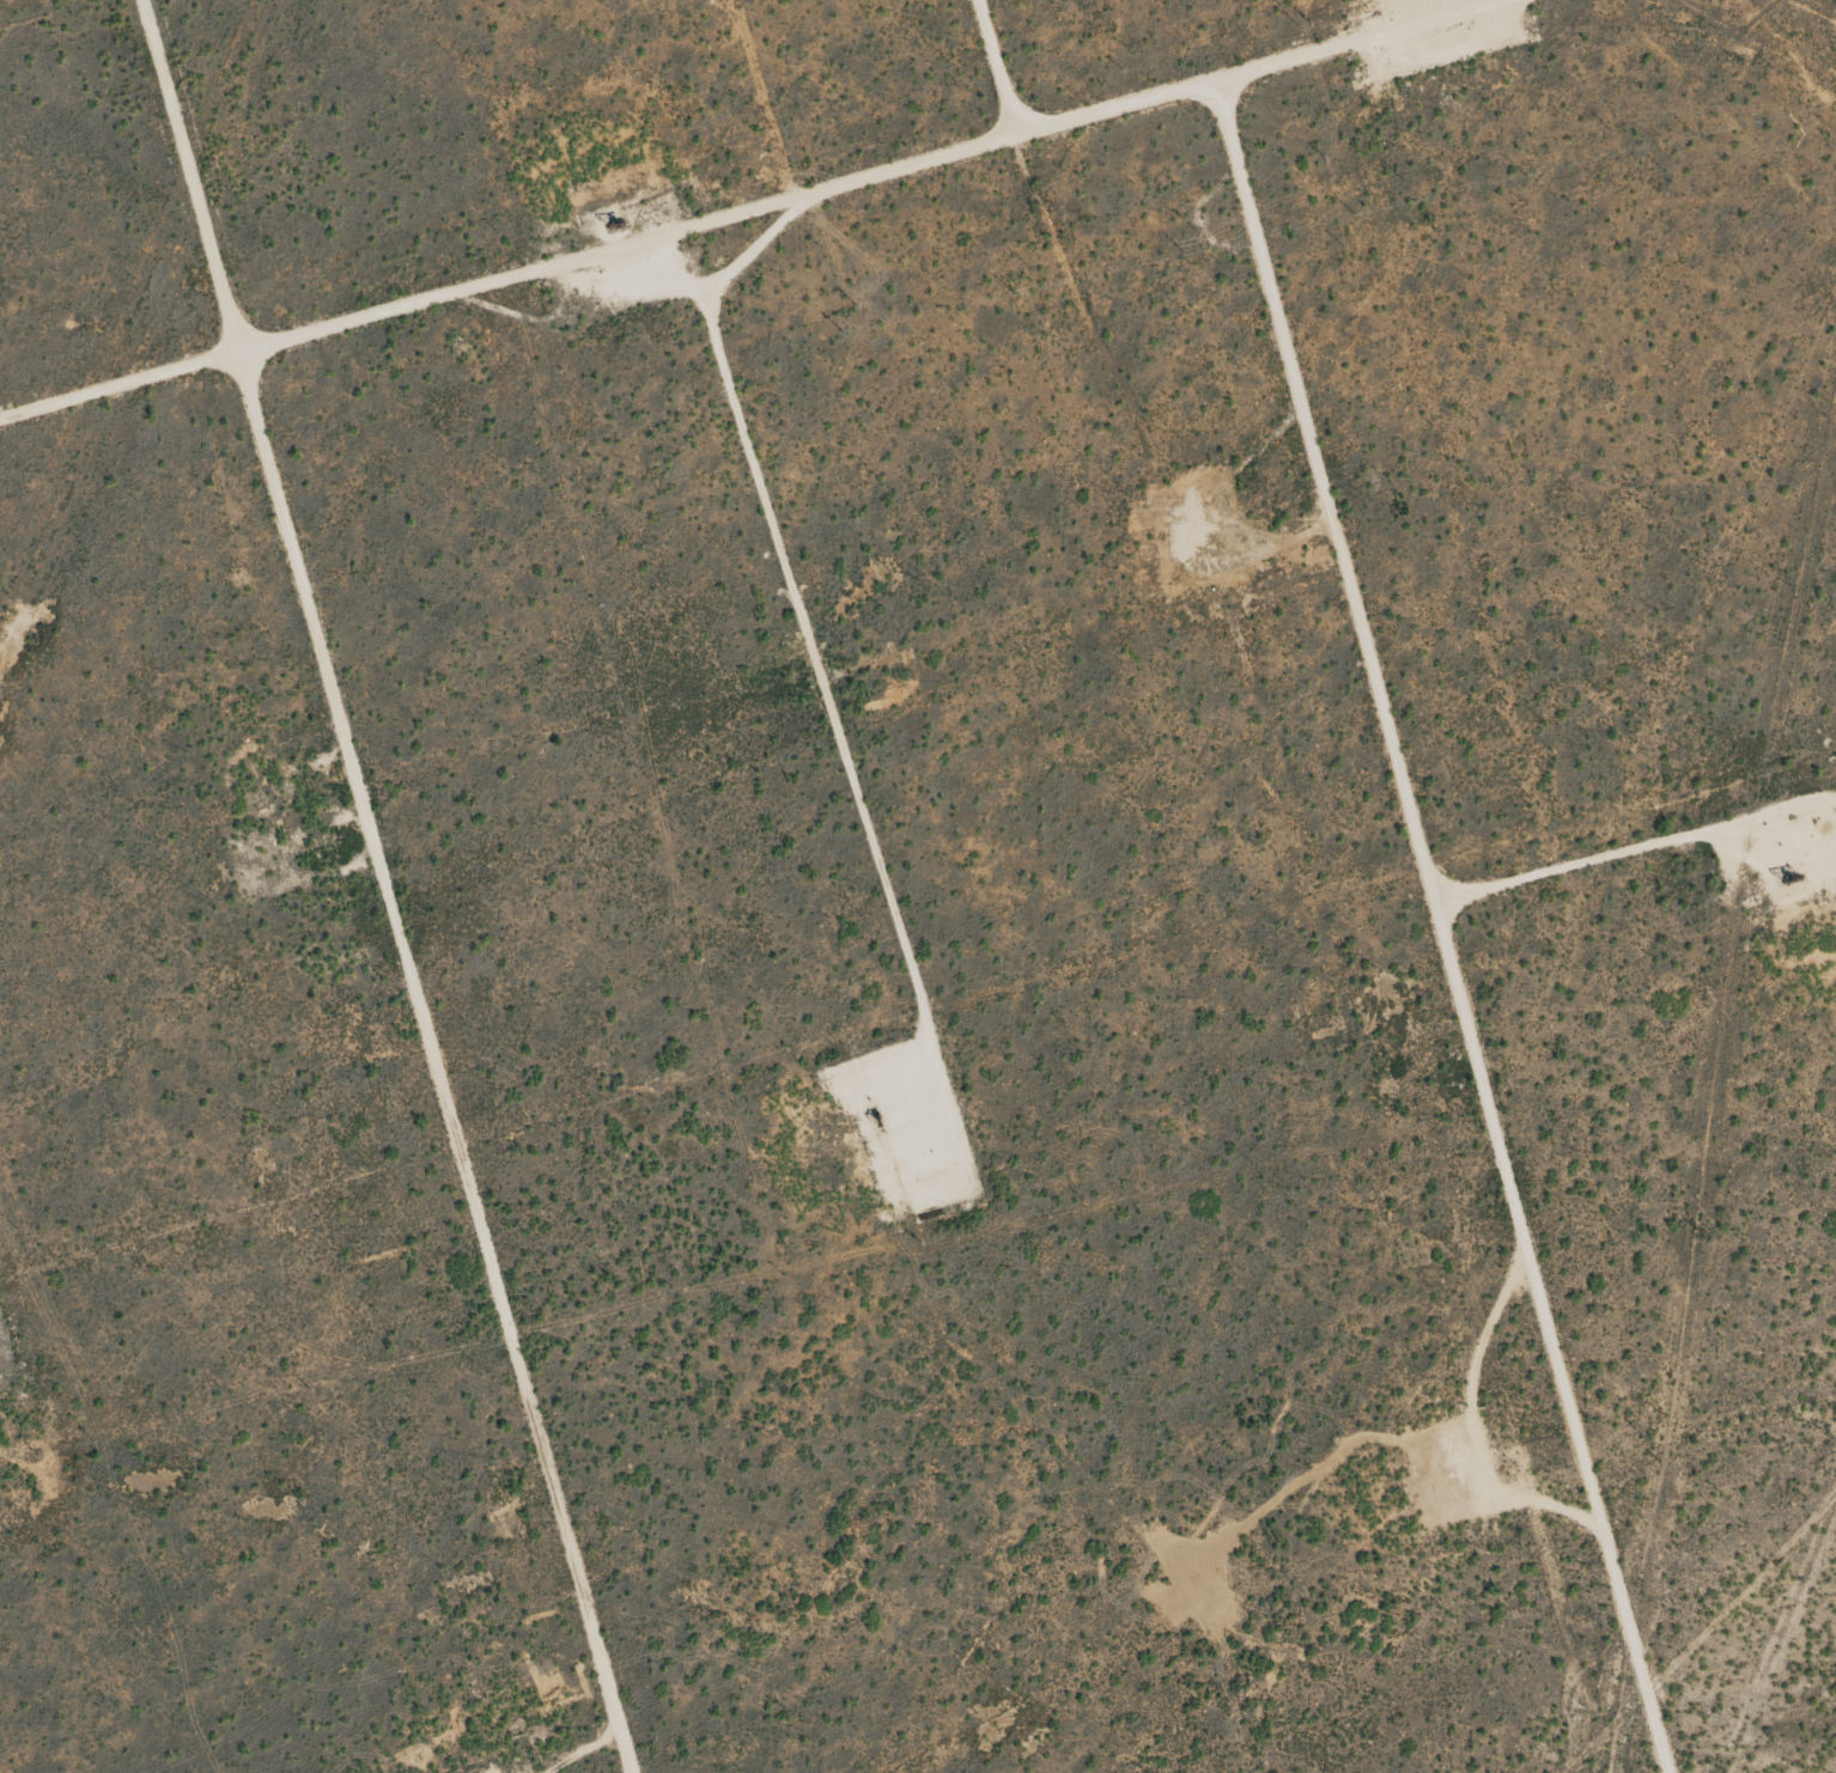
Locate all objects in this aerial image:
road: (997, 71)
road: (764, 239)
road: (387, 886)
road: (1447, 930)

